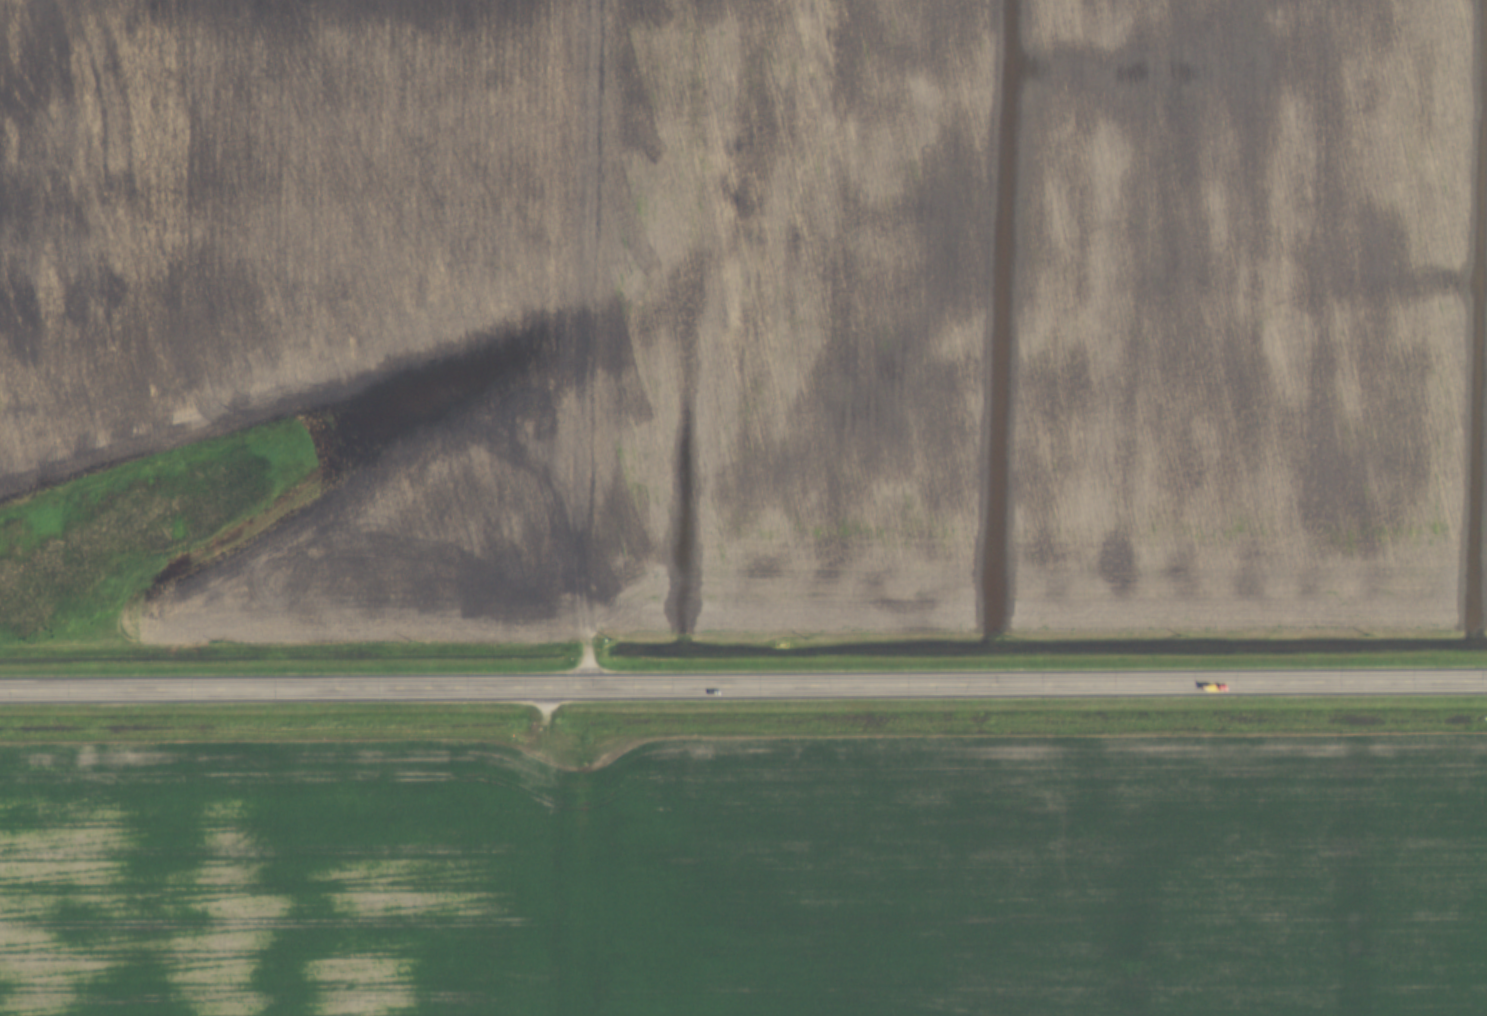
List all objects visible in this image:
crop: (312, 285)
crop: (1037, 316)
road: (743, 686)
crop: (750, 876)

